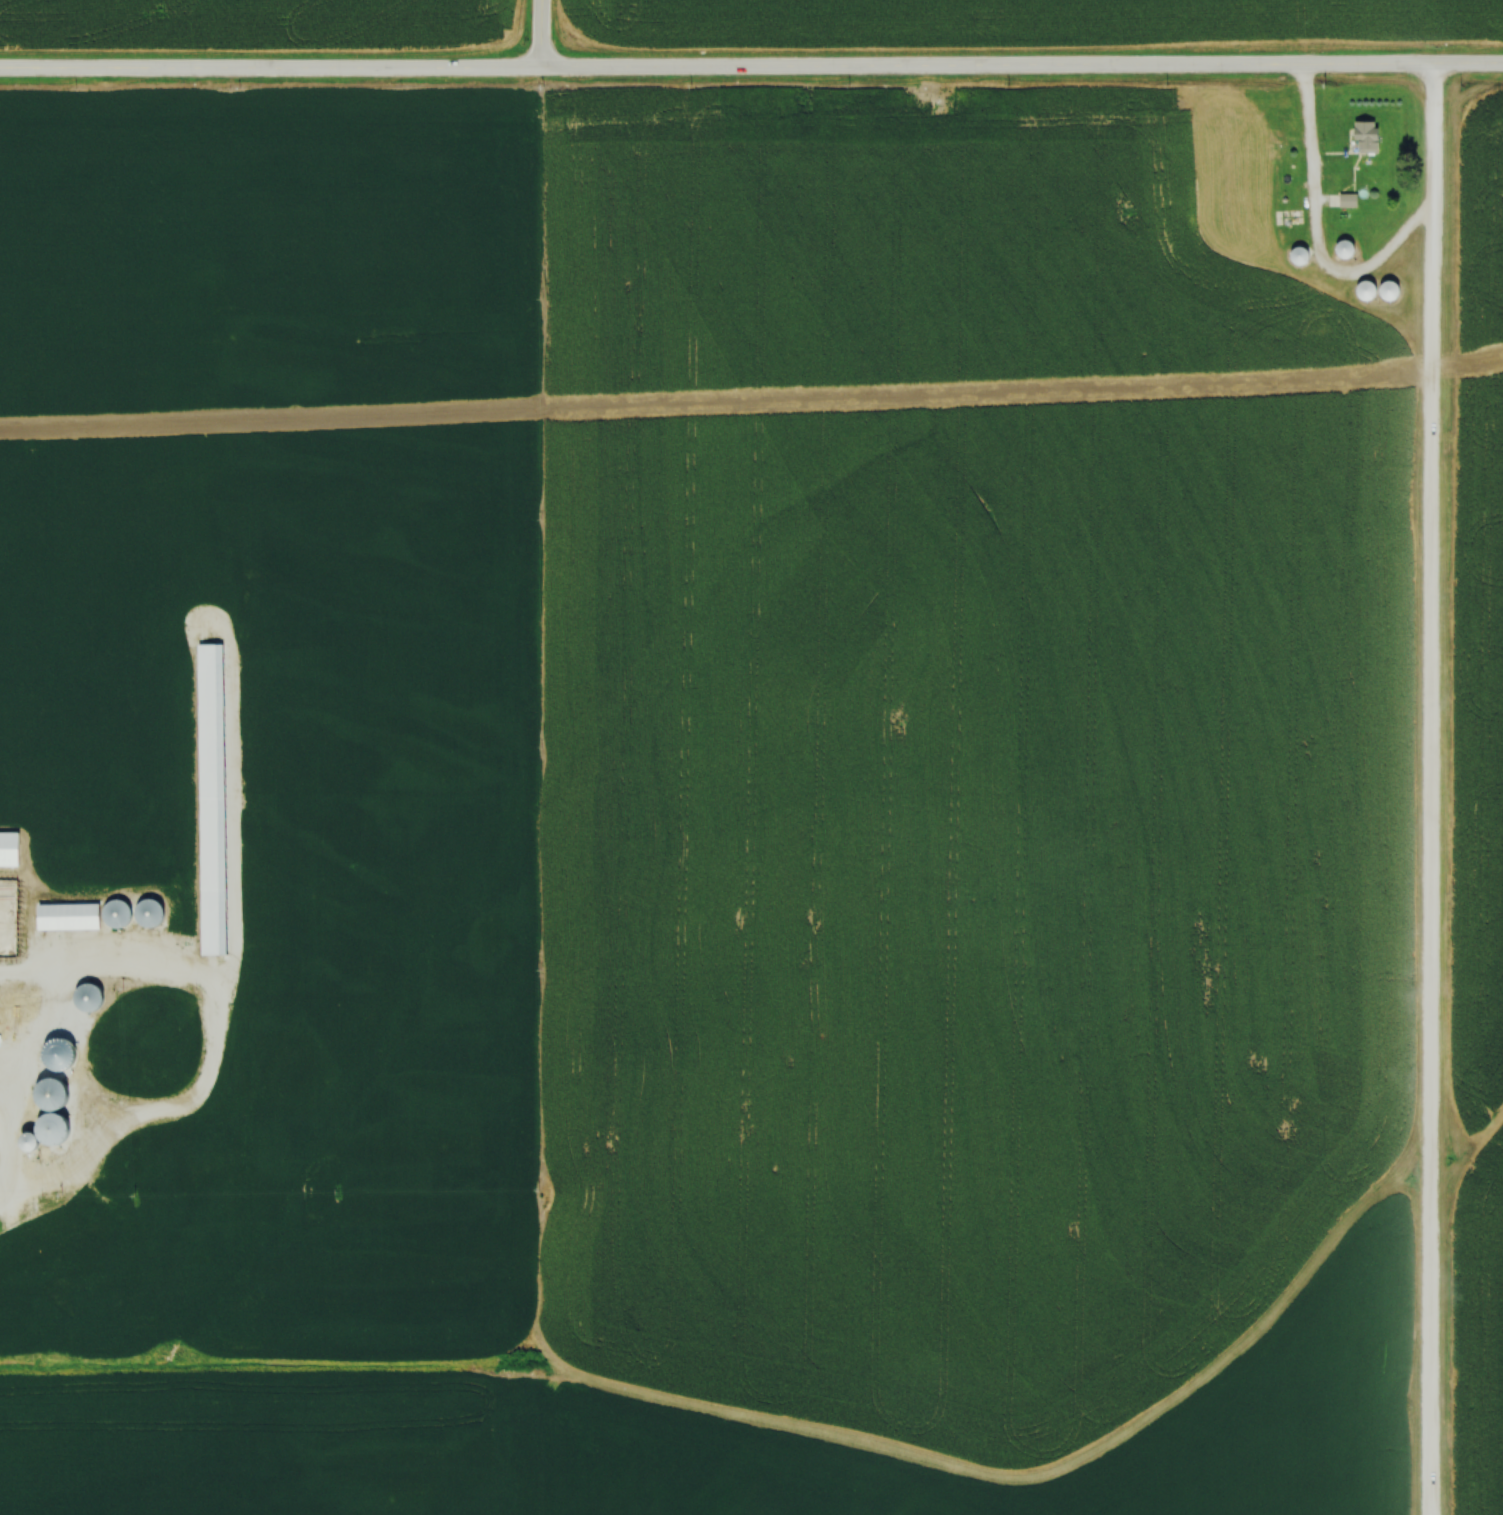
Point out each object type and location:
road: (544, 35)
road: (1468, 66)
road: (988, 68)
road: (271, 70)
building: (1362, 139)
building: (1345, 203)
road: (1320, 231)
building: (1337, 252)
building: (1293, 259)
building: (213, 658)
road: (1430, 790)
building: (12, 850)
building: (156, 914)
building: (122, 915)
building: (73, 918)
building: (219, 944)
building: (94, 999)
road: (209, 1059)
building: (137, 1144)

